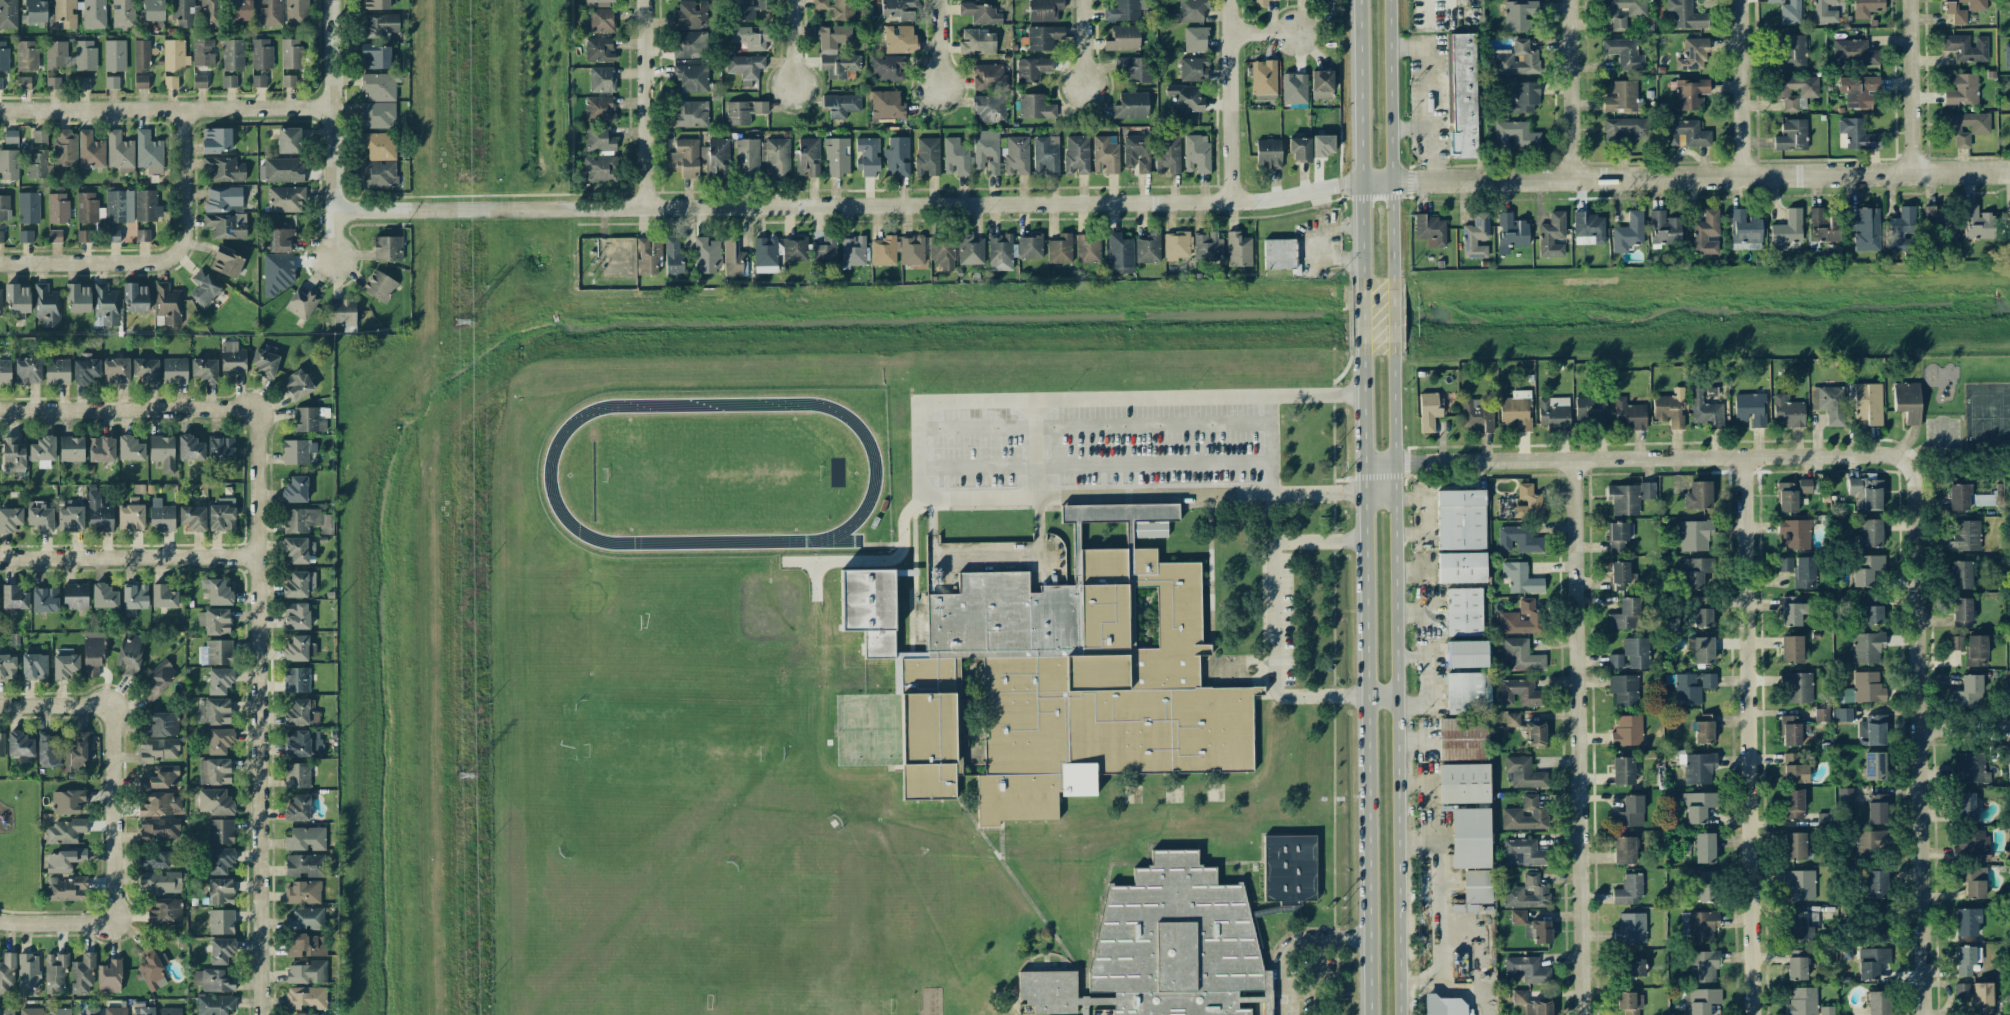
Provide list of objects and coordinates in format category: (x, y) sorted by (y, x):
building: (1275, 0)
building: (597, 1)
building: (1773, 1)
building: (1260, 3)
building: (374, 4)
building: (835, 8)
building: (1866, 8)
building: (749, 9)
building: (898, 9)
building: (153, 10)
building: (241, 10)
building: (1044, 10)
building: (1123, 10)
building: (1191, 10)
building: (34, 11)
building: (1622, 11)
building: (1824, 11)
building: (209, 12)
building: (270, 12)
building: (1790, 12)
building: (1954, 12)
building: (183, 13)
building: (297, 13)
building: (979, 13)
building: (8, 14)
building: (63, 14)
building: (93, 14)
building: (123, 14)
building: (1685, 14)
building: (690, 15)
building: (1519, 15)
building: (601, 20)
building: (380, 26)
road: (1263, 31)
building: (1043, 37)
building: (1123, 38)
building: (900, 39)
building: (1195, 39)
building: (977, 42)
road: (1085, 43)
building: (689, 44)
road: (938, 44)
road: (792, 45)
building: (1965, 48)
building: (599, 49)
building: (835, 51)
building: (1790, 51)
building: (203, 52)
building: (1854, 52)
building: (261, 53)
building: (290, 53)
building: (1624, 53)
building: (1692, 54)
building: (26, 55)
building: (57, 55)
building: (85, 55)
building: (114, 55)
building: (175, 55)
building: (232, 55)
building: (2006, 55)
building: (3, 56)
building: (141, 56)
building: (375, 56)
building: (1516, 59)
building: (744, 66)
building: (887, 68)
building: (1134, 68)
building: (1032, 69)
building: (1193, 69)
building: (691, 77)
building: (989, 77)
building: (601, 79)
building: (1263, 80)
building: (170, 81)
building: (199, 81)
building: (229, 81)
building: (258, 81)
building: (53, 82)
building: (82, 82)
building: (111, 82)
building: (141, 82)
building: (0, 83)
building: (23, 83)
building: (1321, 84)
road: (1911, 85)
building: (380, 86)
building: (1294, 88)
road: (1743, 88)
road: (1570, 89)
building: (1962, 89)
building: (1858, 90)
building: (1689, 93)
building: (1463, 95)
building: (1621, 97)
building: (1185, 98)
road: (1426, 98)
building: (1523, 98)
road: (1229, 101)
road: (646, 104)
building: (840, 104)
building: (886, 105)
road: (165, 106)
building: (1131, 106)
building: (1035, 107)
building: (599, 108)
building: (989, 108)
building: (743, 111)
building: (690, 114)
building: (377, 115)
building: (2009, 125)
road: (1408, 127)
building: (1624, 128)
building: (1966, 128)
road: (332, 131)
building: (1684, 133)
building: (1857, 134)
building: (1514, 135)
building: (1791, 135)
building: (10, 136)
building: (39, 136)
building: (599, 138)
building: (216, 140)
building: (288, 140)
road: (1358, 144)
building: (379, 145)
building: (1322, 145)
road: (1389, 145)
building: (65, 148)
building: (1299, 149)
building: (90, 150)
building: (987, 151)
building: (119, 152)
building: (149, 152)
building: (1136, 153)
building: (1196, 153)
building: (1268, 153)
building: (1046, 154)
building: (1167, 154)
building: (1016, 155)
building: (1076, 155)
building: (1105, 155)
building: (775, 156)
building: (807, 156)
building: (837, 156)
building: (867, 156)
building: (897, 156)
building: (927, 156)
building: (717, 157)
building: (747, 157)
building: (956, 157)
building: (684, 158)
building: (8, 164)
building: (35, 165)
building: (223, 168)
building: (597, 168)
building: (281, 169)
building: (378, 174)
building: (223, 199)
building: (285, 199)
road: (1172, 203)
building: (119, 206)
building: (147, 206)
building: (5, 208)
building: (28, 208)
building: (57, 208)
building: (85, 214)
building: (1939, 220)
building: (1979, 223)
building: (225, 225)
building: (1823, 226)
building: (1664, 228)
building: (1589, 229)
building: (1864, 229)
building: (1430, 230)
building: (1745, 230)
building: (1786, 230)
building: (1901, 230)
building: (1628, 232)
building: (1511, 233)
building: (1706, 233)
building: (142, 235)
building: (1551, 235)
building: (1, 236)
building: (24, 236)
building: (54, 236)
building: (112, 236)
building: (1475, 237)
building: (282, 239)
building: (1176, 245)
building: (1207, 245)
building: (1147, 247)
building: (387, 248)
building: (794, 248)
building: (1087, 248)
building: (970, 249)
building: (1059, 249)
building: (1238, 249)
building: (853, 250)
building: (897, 250)
building: (1011, 250)
building: (825, 251)
building: (942, 251)
building: (765, 252)
building: (1119, 254)
building: (1278, 254)
building: (647, 255)
building: (706, 255)
building: (673, 257)
building: (733, 258)
road: (165, 259)
building: (227, 262)
building: (277, 272)
building: (379, 286)
building: (204, 288)
building: (135, 297)
building: (17, 298)
building: (78, 298)
building: (0, 302)
building: (301, 302)
building: (167, 303)
building: (106, 304)
building: (46, 305)
building: (342, 312)
power tower: (462, 322)
road: (1361, 322)
road: (1392, 322)
building: (232, 359)
building: (264, 363)
building: (85, 369)
building: (115, 370)
building: (145, 370)
building: (174, 370)
building: (205, 370)
building: (5, 371)
building: (27, 371)
building: (57, 371)
building: (297, 384)
road: (1090, 398)
building: (1907, 401)
building: (1829, 403)
building: (1868, 403)
road: (121, 408)
building: (1750, 408)
building: (1516, 410)
building: (1590, 410)
building: (1669, 410)
building: (1704, 410)
building: (1428, 411)
building: (1788, 411)
building: (1553, 413)
building: (1628, 415)
building: (1476, 416)
building: (308, 420)
road: (1094, 426)
road: (1271, 444)
building: (130, 448)
building: (190, 448)
building: (71, 449)
building: (101, 449)
building: (42, 450)
building: (220, 450)
building: (297, 451)
building: (162, 452)
building: (13, 455)
road: (1635, 458)
road: (1094, 465)
track: (873, 474)
road: (1036, 477)
building: (295, 490)
building: (1647, 490)
building: (1866, 491)
road: (1379, 493)
building: (1791, 494)
road: (1140, 495)
building: (1698, 495)
building: (1967, 498)
building: (1623, 499)
building: (1528, 502)
building: (98, 511)
building: (131, 515)
road: (1424, 515)
building: (40, 517)
building: (161, 518)
building: (193, 518)
building: (221, 518)
building: (10, 519)
building: (70, 519)
building: (1460, 519)
building: (306, 520)
road: (932, 527)
building: (1793, 533)
building: (1870, 533)
building: (1695, 535)
building: (1965, 536)
building: (1617, 537)
building: (1518, 540)
building: (299, 550)
road: (132, 556)
road: (985, 557)
road: (873, 561)
building: (1461, 567)
road: (1413, 568)
building: (1866, 569)
building: (1799, 570)
building: (1696, 572)
building: (1618, 574)
building: (1960, 574)
building: (1521, 578)
building: (299, 584)
building: (218, 592)
building: (75, 596)
building: (104, 596)
building: (163, 596)
building: (13, 597)
building: (44, 599)
building: (134, 599)
building: (869, 609)
building: (1872, 610)
road: (1410, 611)
road: (1425, 611)
building: (1464, 611)
building: (1792, 611)
building: (1961, 612)
building: (1626, 614)
building: (296, 615)
building: (1703, 617)
road: (1273, 618)
building: (1520, 618)
building: (215, 621)
building: (1955, 642)
building: (1867, 647)
building: (298, 649)
building: (1700, 649)
building: (1791, 649)
building: (1976, 650)
building: (216, 651)
building: (130, 652)
building: (1636, 652)
building: (1469, 654)
building: (1522, 654)
road: (1411, 656)
building: (91, 657)
building: (1615, 661)
building: (64, 663)
building: (7, 666)
building: (34, 666)
road: (1239, 670)
building: (296, 680)
building: (1708, 680)
building: (218, 681)
road: (1396, 684)
road: (1363, 686)
building: (1067, 687)
building: (1796, 687)
building: (1868, 687)
building: (1624, 689)
building: (1687, 689)
road: (1426, 690)
building: (1967, 692)
building: (1468, 693)
building: (1520, 693)
road: (1380, 697)
road: (266, 701)
road: (80, 703)
building: (213, 711)
building: (300, 713)
building: (1842, 714)
building: (1821, 715)
building: (1512, 719)
building: (161, 725)
road: (1963, 727)
building: (1703, 729)
building: (1627, 730)
building: (1792, 730)
building: (1872, 730)
building: (1535, 734)
road: (1748, 736)
road: (1579, 737)
road: (1917, 737)
building: (1462, 738)
building: (219, 741)
building: (301, 742)
building: (19, 744)
building: (1, 745)
building: (159, 749)
building: (48, 750)
building: (76, 755)
building: (1874, 765)
building: (1970, 768)
building: (1793, 769)
building: (1622, 770)
building: (214, 771)
building: (1524, 773)
building: (296, 775)
power tower: (469, 777)
building: (161, 778)
building: (1462, 783)
building: (1845, 794)
building: (67, 801)
building: (215, 802)
building: (161, 804)
building: (1793, 804)
building: (1697, 806)
building: (1964, 806)
building: (297, 808)
building: (1877, 809)
building: (1511, 812)
building: (1629, 812)
building: (159, 829)
building: (64, 831)
building: (220, 831)
road: (118, 832)
building: (1469, 838)
building: (305, 839)
building: (1871, 841)
building: (1972, 845)
building: (1794, 846)
building: (1704, 848)
building: (1624, 850)
building: (1522, 852)
building: (63, 860)
building: (158, 860)
building: (220, 860)
building: (304, 865)
building: (1289, 869)
building: (1972, 881)
building: (160, 882)
building: (1799, 884)
building: (1875, 884)
building: (1478, 886)
building: (1703, 886)
building: (66, 888)
building: (1628, 889)
building: (1512, 890)
building: (220, 891)
building: (302, 892)
building: (1468, 907)
road: (1440, 909)
building: (165, 910)
building: (1517, 917)
building: (305, 918)
road: (59, 920)
building: (221, 921)
building: (1966, 922)
building: (1796, 925)
building: (1699, 926)
building: (1631, 928)
building: (1538, 930)
building: (1877, 931)
road: (1288, 941)
building: (305, 945)
building: (1161, 946)
building: (220, 951)
building: (1966, 960)
building: (1796, 964)
building: (1873, 964)
building: (1704, 965)
building: (152, 967)
building: (1628, 968)
building: (1525, 970)
building: (27, 972)
building: (307, 972)
building: (7, 973)
building: (55, 973)
building: (82, 974)
building: (109, 976)
road: (1318, 977)
building: (212, 980)
building: (1961, 990)
building: (306, 998)
building: (1981, 998)
building: (1701, 999)
building: (1629, 1002)
building: (1802, 1002)
building: (1876, 1003)
building: (214, 1004)
building: (1532, 1004)
building: (1443, 1005)
building: (143, 1010)
building: (1826, 1010)
building: (6, 1011)
building: (31, 1011)
building: (59, 1011)
building: (91, 1011)
building: (115, 1011)
building: (170, 1011)
building: (305, 1013)
road: (1101, 1014)

